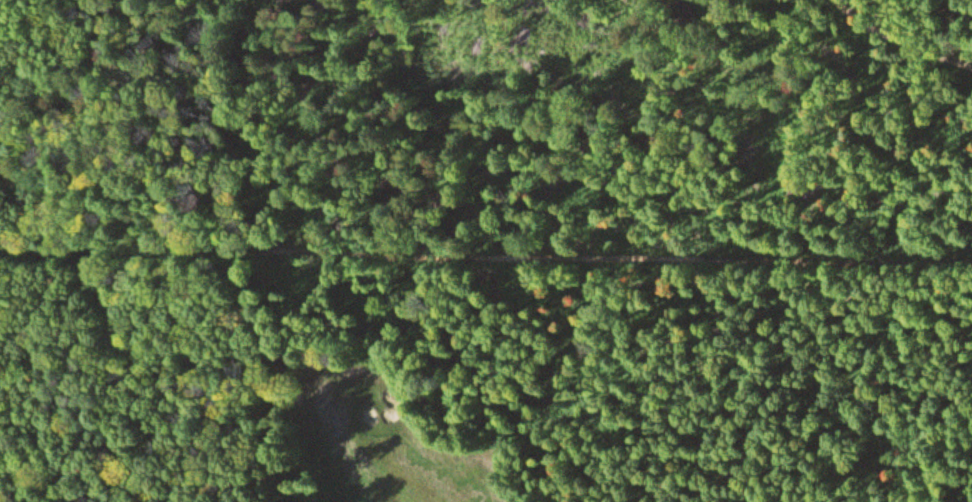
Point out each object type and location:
road: (486, 252)
park: (387, 428)

